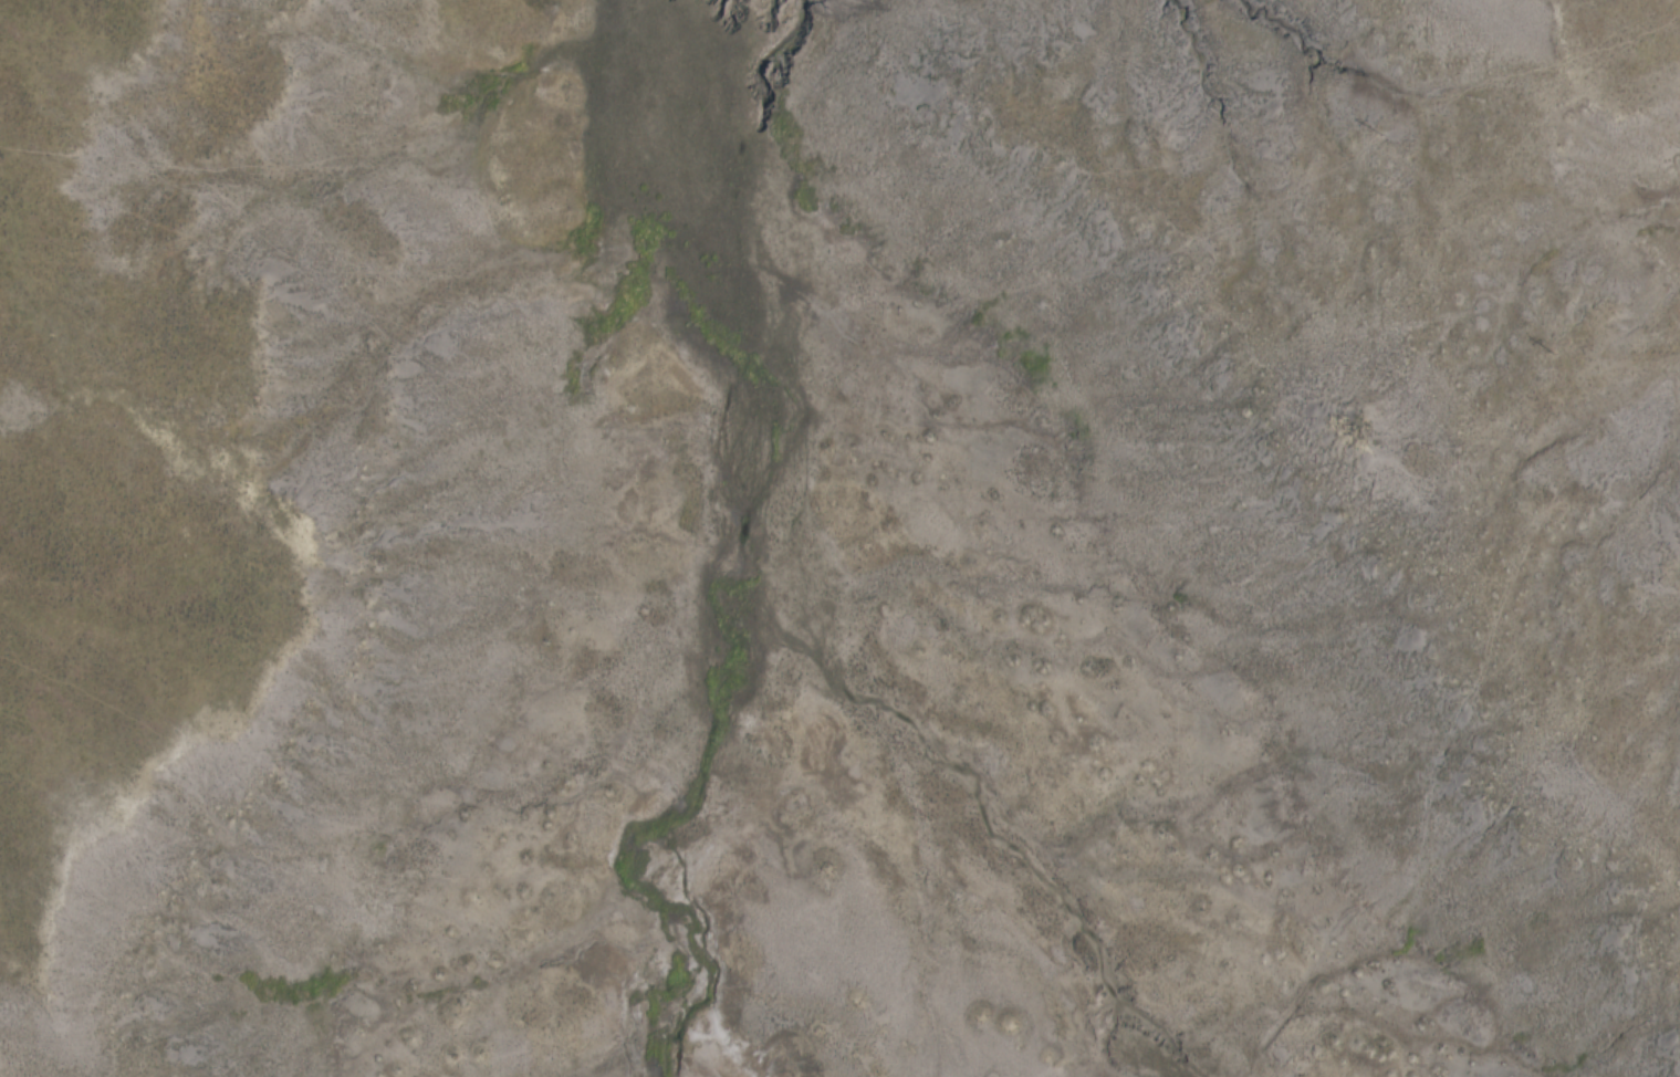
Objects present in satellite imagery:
power tower: (1388, 135)
power tower: (1559, 356)

